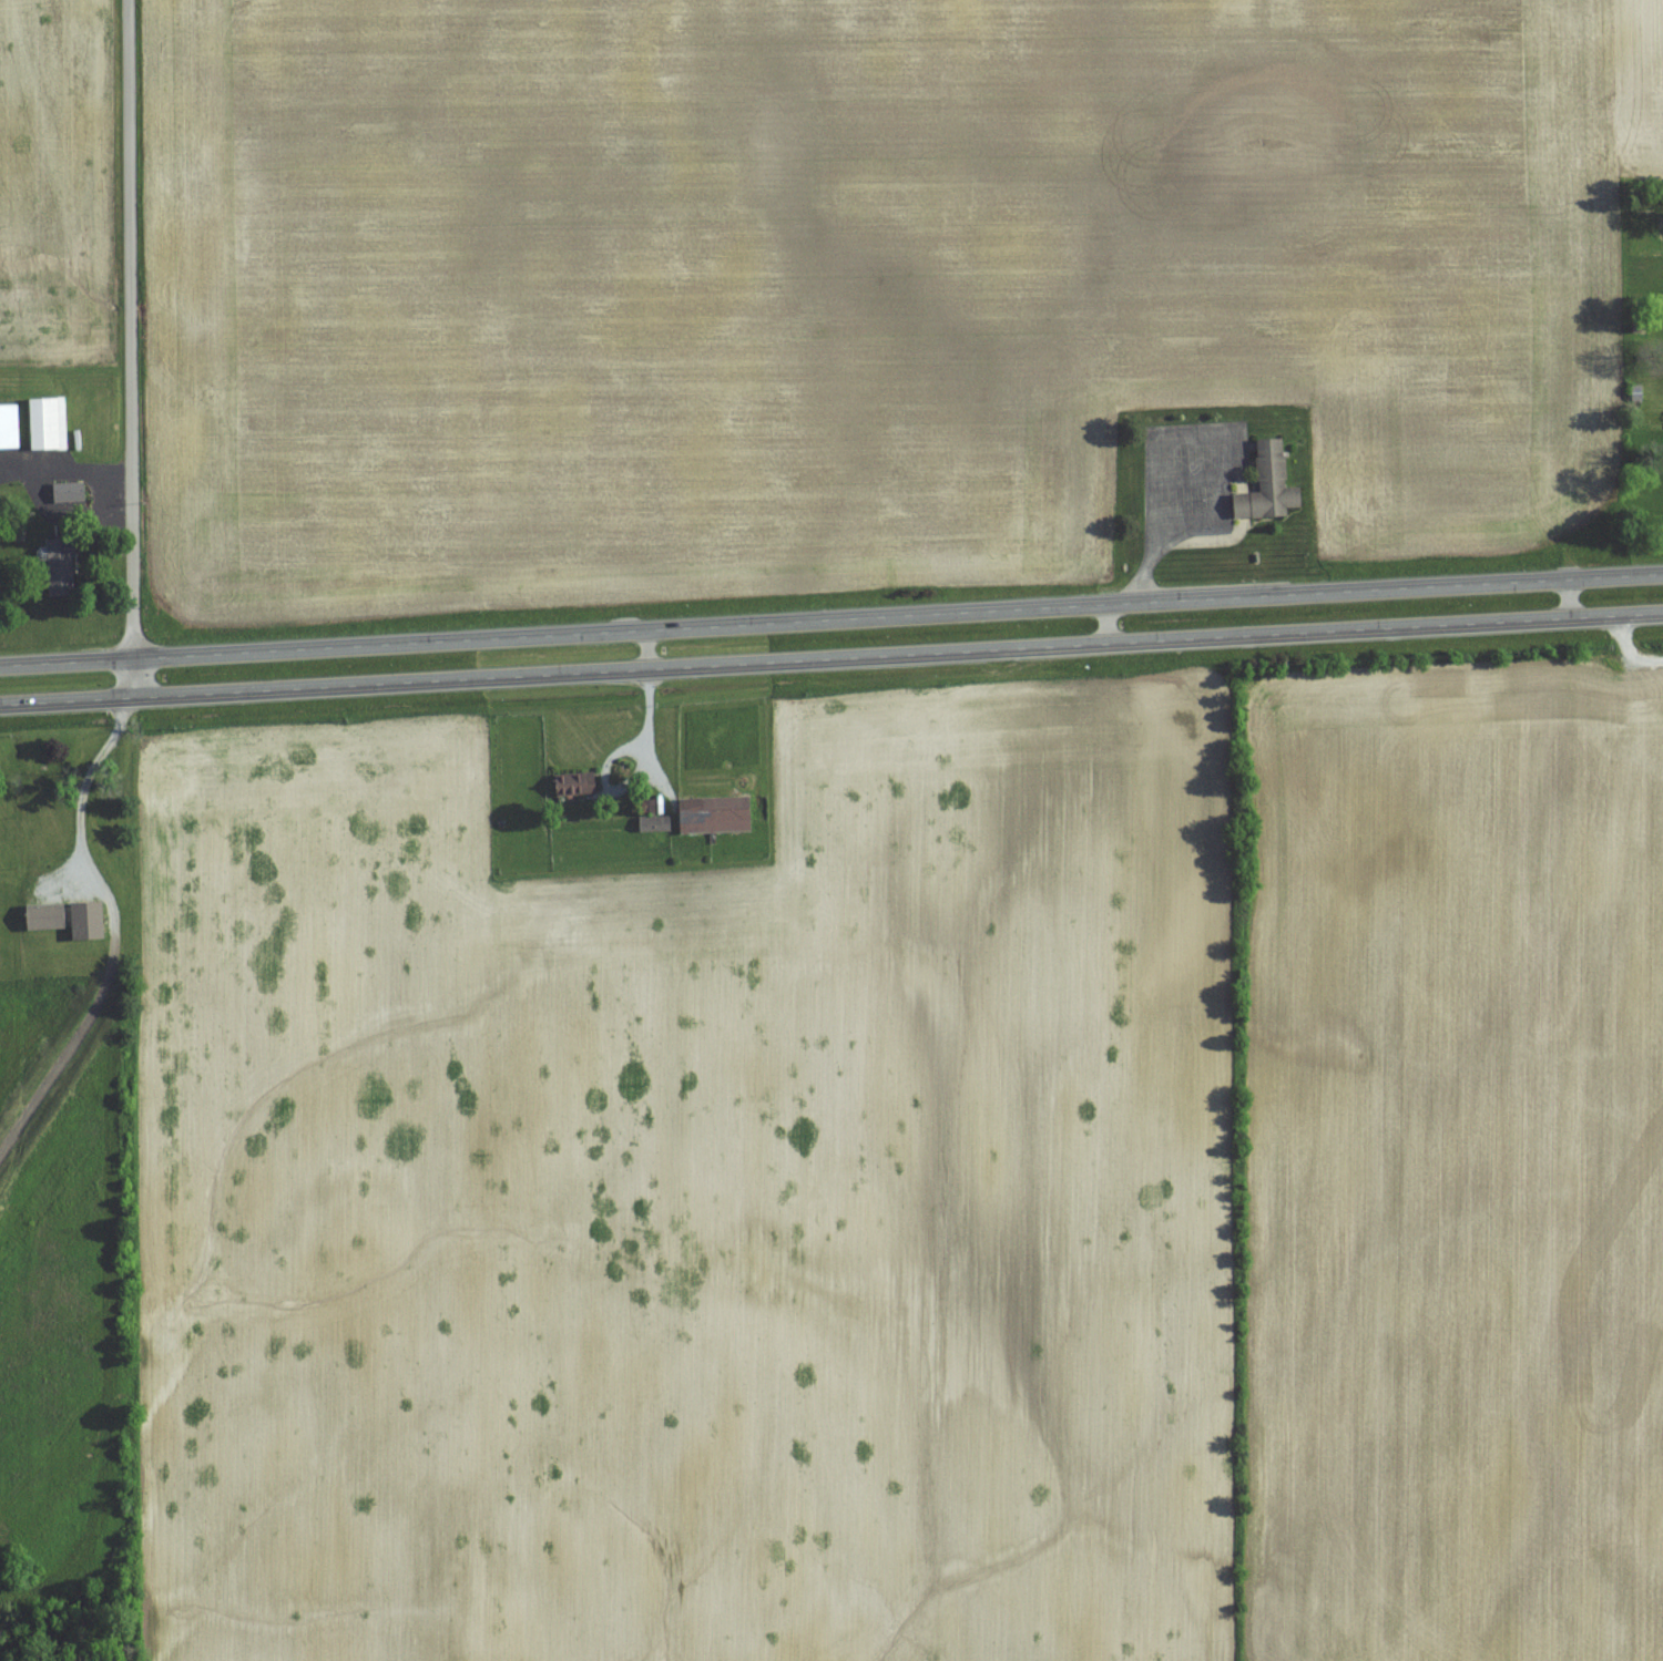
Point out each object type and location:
road: (130, 330)
building: (50, 424)
building: (10, 428)
building: (1272, 485)
building: (71, 493)
building: (63, 568)
road: (1570, 601)
road: (830, 621)
road: (1108, 626)
road: (649, 650)
road: (1629, 654)
road: (830, 660)
road: (134, 679)
building: (579, 785)
building: (717, 813)
building: (656, 823)
building: (48, 916)
building: (90, 920)
road: (114, 932)

